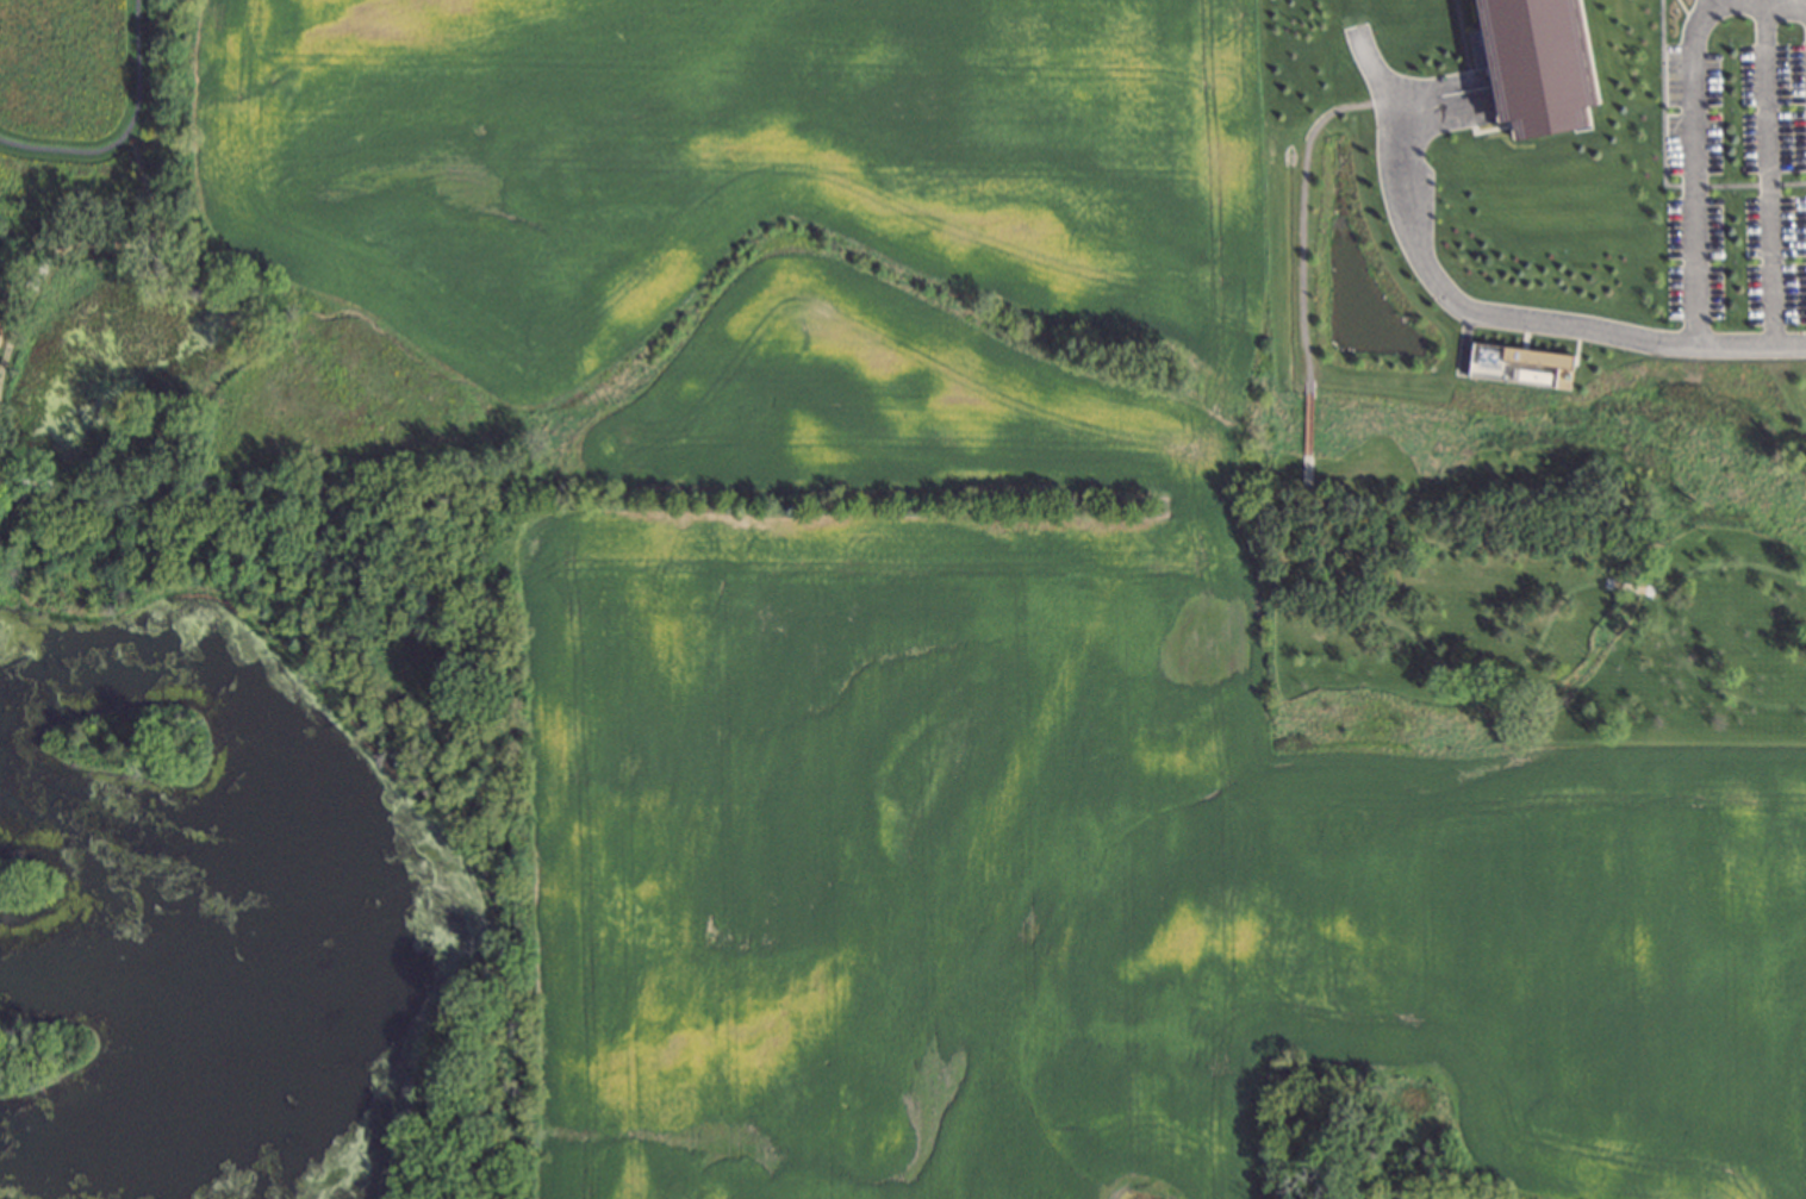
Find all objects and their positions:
road: (1777, 5)
building: (1531, 55)
road: (124, 131)
road: (1693, 168)
road: (1765, 173)
road: (1528, 318)
crop: (940, 626)
building: (1399, 1198)

